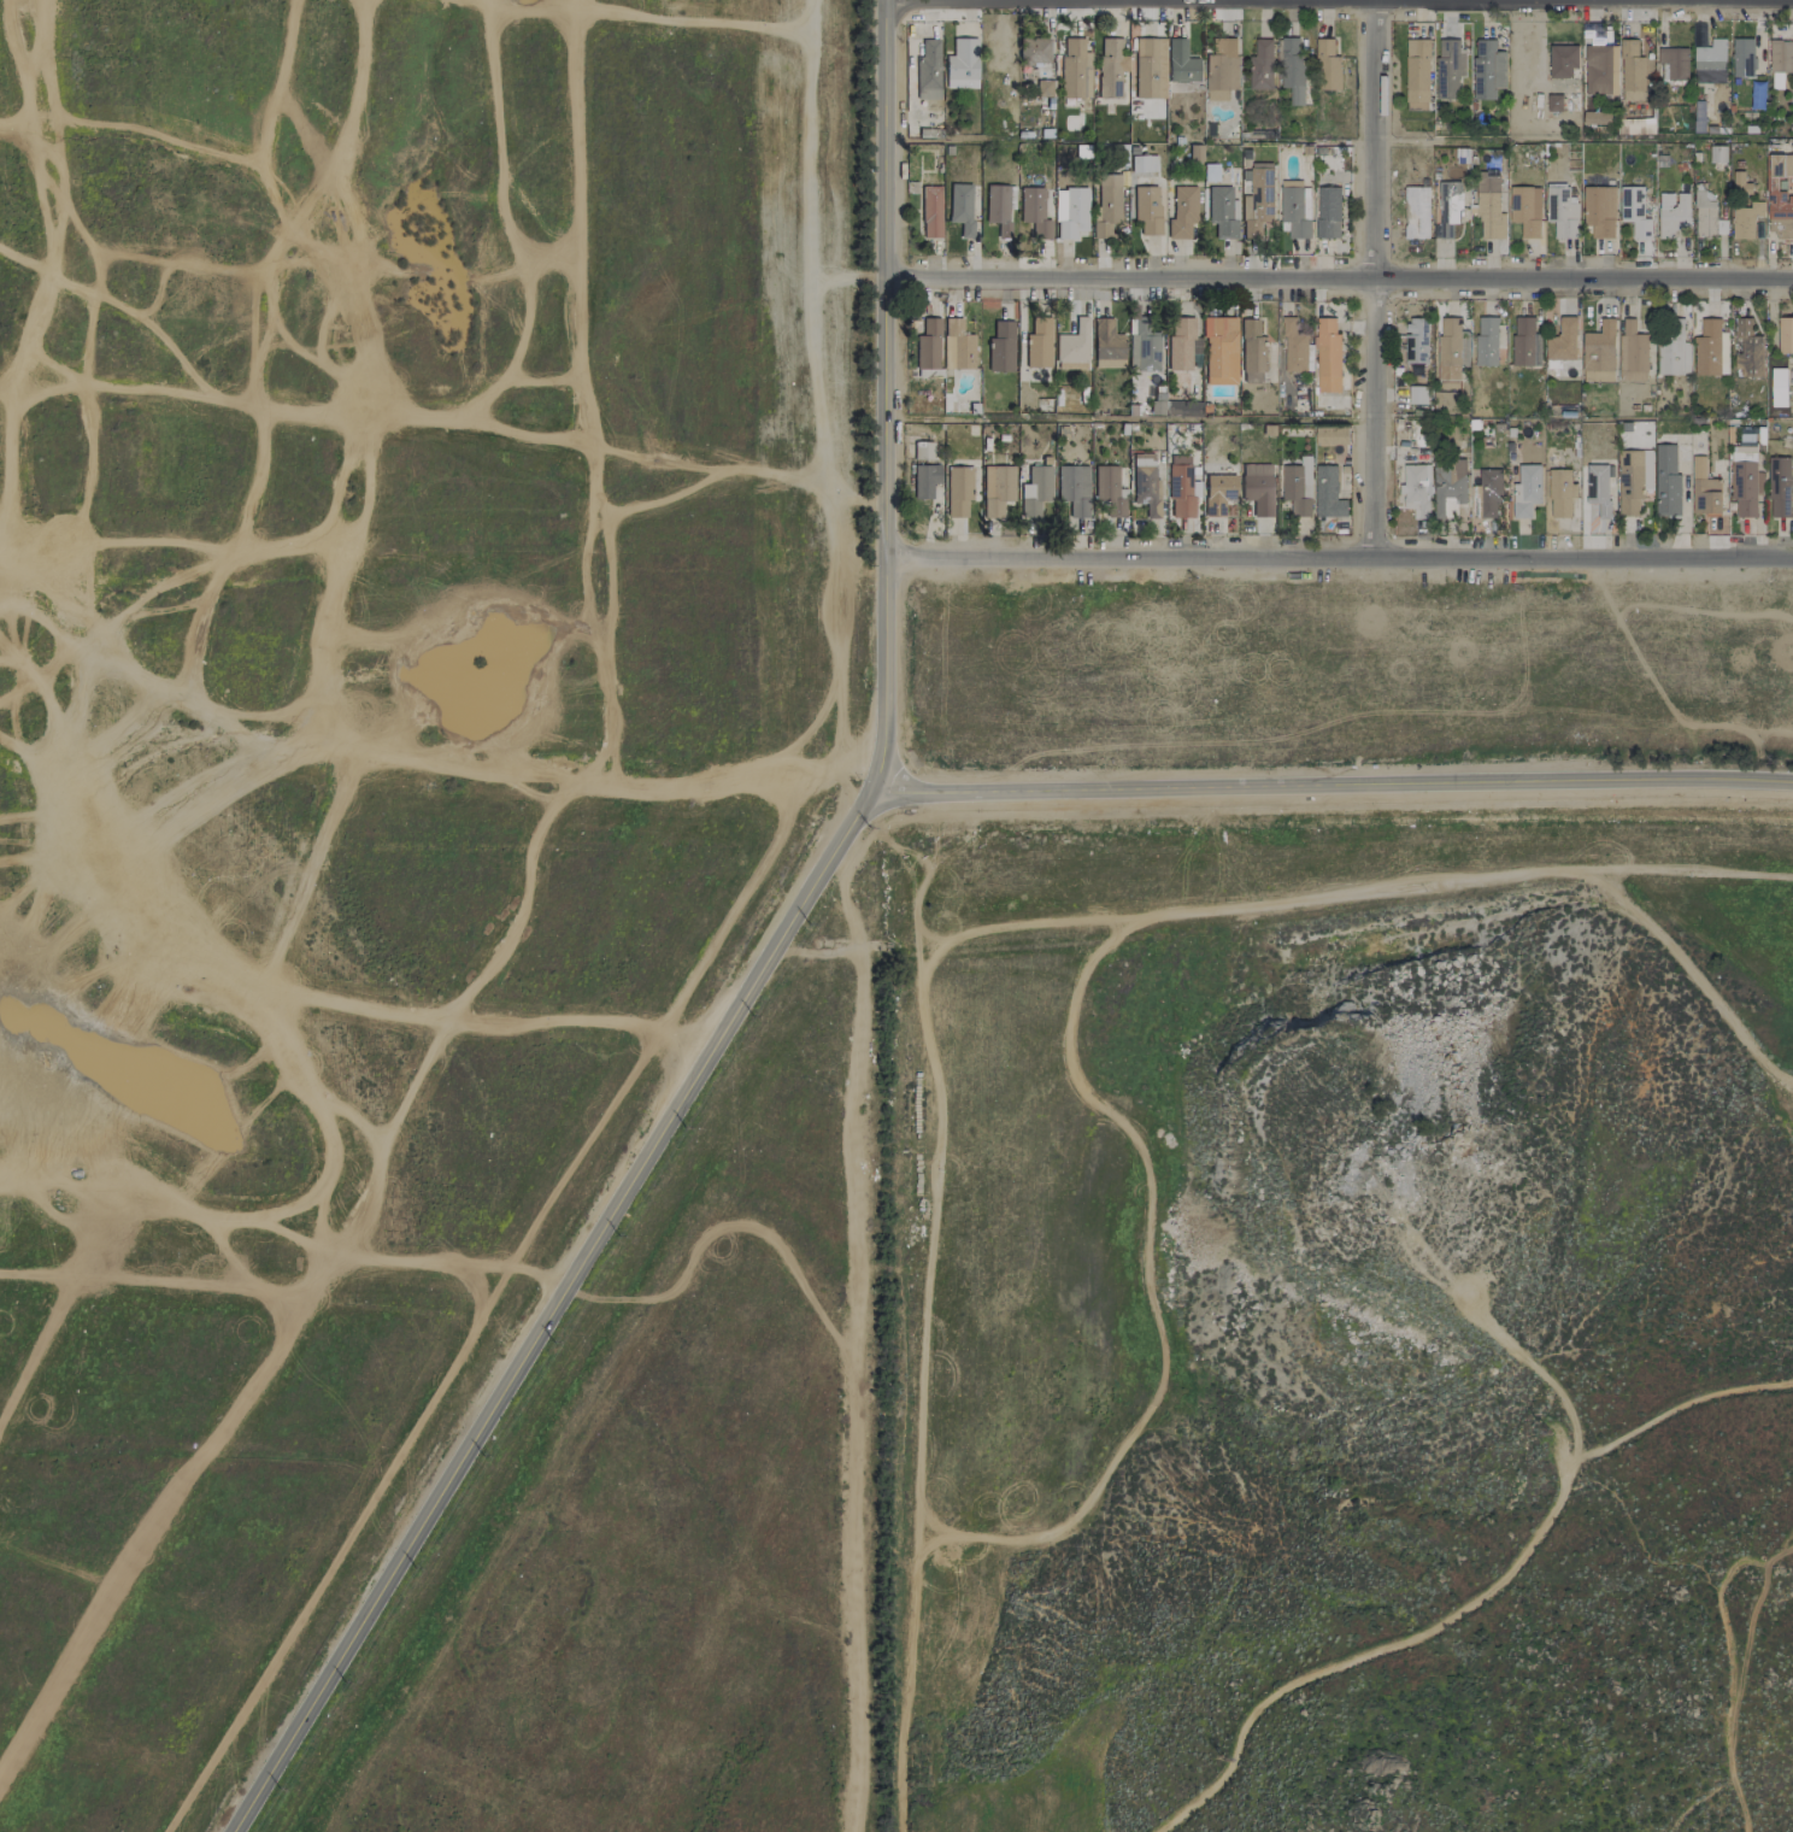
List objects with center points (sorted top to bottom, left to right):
road: (1340, 1)
building: (1035, 51)
building: (1781, 55)
building: (1742, 57)
building: (1709, 59)
building: (1562, 60)
building: (962, 61)
building: (1673, 61)
building: (1181, 63)
building: (1260, 65)
building: (1327, 65)
building: (1111, 67)
building: (1150, 67)
building: (1221, 67)
building: (1448, 67)
building: (1075, 69)
building: (1292, 69)
building: (1487, 69)
building: (1597, 69)
building: (928, 70)
building: (1630, 71)
building: (1416, 74)
building: (1779, 81)
building: (1553, 102)
building: (1597, 117)
road: (1539, 139)
building: (1716, 153)
building: (1144, 164)
building: (1740, 183)
building: (1779, 196)
building: (1258, 200)
building: (1107, 205)
building: (960, 207)
building: (998, 207)
building: (1448, 207)
building: (1147, 209)
building: (1489, 209)
building: (1524, 210)
building: (1599, 210)
building: (931, 211)
building: (1034, 211)
building: (1295, 211)
building: (1562, 211)
building: (1634, 211)
building: (1183, 212)
building: (1222, 212)
building: (1328, 212)
building: (1416, 212)
building: (1074, 213)
building: (1673, 213)
building: (1706, 215)
building: (1745, 219)
road: (1368, 276)
road: (1335, 282)
building: (1785, 335)
building: (1416, 340)
building: (1486, 341)
building: (1522, 341)
building: (1562, 341)
building: (960, 343)
building: (1039, 343)
building: (1180, 343)
building: (928, 345)
building: (1107, 345)
building: (1072, 346)
building: (1293, 346)
building: (1001, 347)
building: (1144, 347)
building: (1451, 348)
building: (1673, 348)
building: (1710, 348)
building: (1747, 350)
building: (1221, 351)
building: (1252, 352)
building: (1632, 352)
building: (1598, 353)
building: (1327, 354)
building: (1777, 387)
building: (1417, 394)
road: (882, 395)
building: (1792, 398)
building: (1181, 409)
building: (1330, 435)
building: (923, 450)
building: (1742, 477)
building: (925, 480)
building: (1633, 480)
building: (1666, 480)
building: (1145, 482)
building: (1297, 487)
building: (1779, 487)
building: (1074, 488)
building: (1258, 488)
building: (1598, 488)
building: (1704, 488)
building: (997, 489)
building: (1416, 489)
building: (958, 491)
building: (1035, 491)
building: (1109, 491)
building: (1180, 491)
building: (1525, 491)
building: (1488, 492)
building: (1218, 493)
building: (1327, 493)
building: (1560, 493)
road: (1127, 554)
road: (1580, 556)
road: (1338, 788)
road: (1694, 870)
road: (950, 939)
road: (560, 1313)
road: (1770, 1382)
road: (1560, 1408)
road: (1374, 1651)
road: (1729, 1666)

